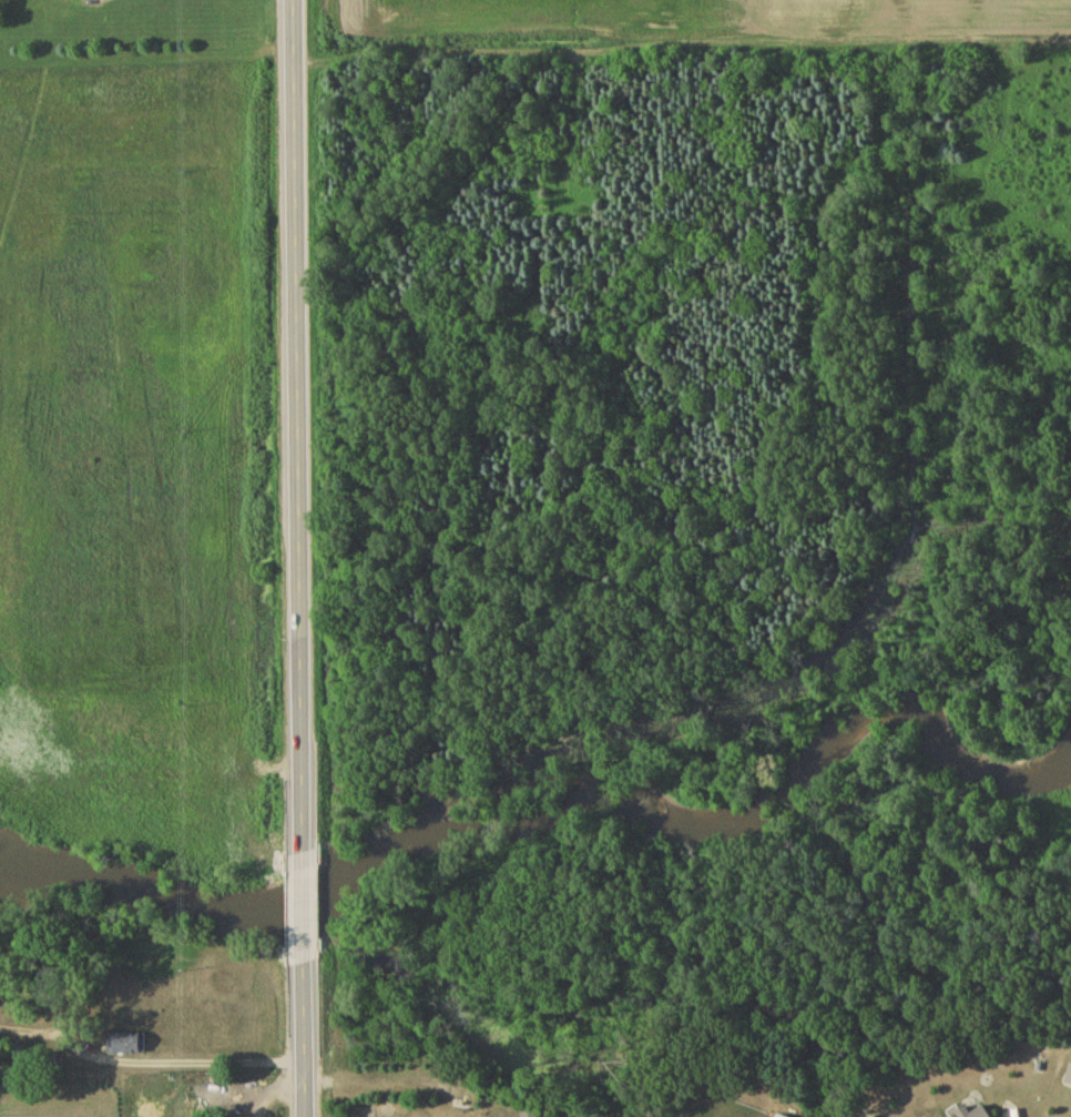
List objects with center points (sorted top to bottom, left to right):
road: (299, 558)
building: (127, 1046)
road: (151, 1065)
building: (1069, 1080)
building: (983, 1114)
building: (529, 1116)

